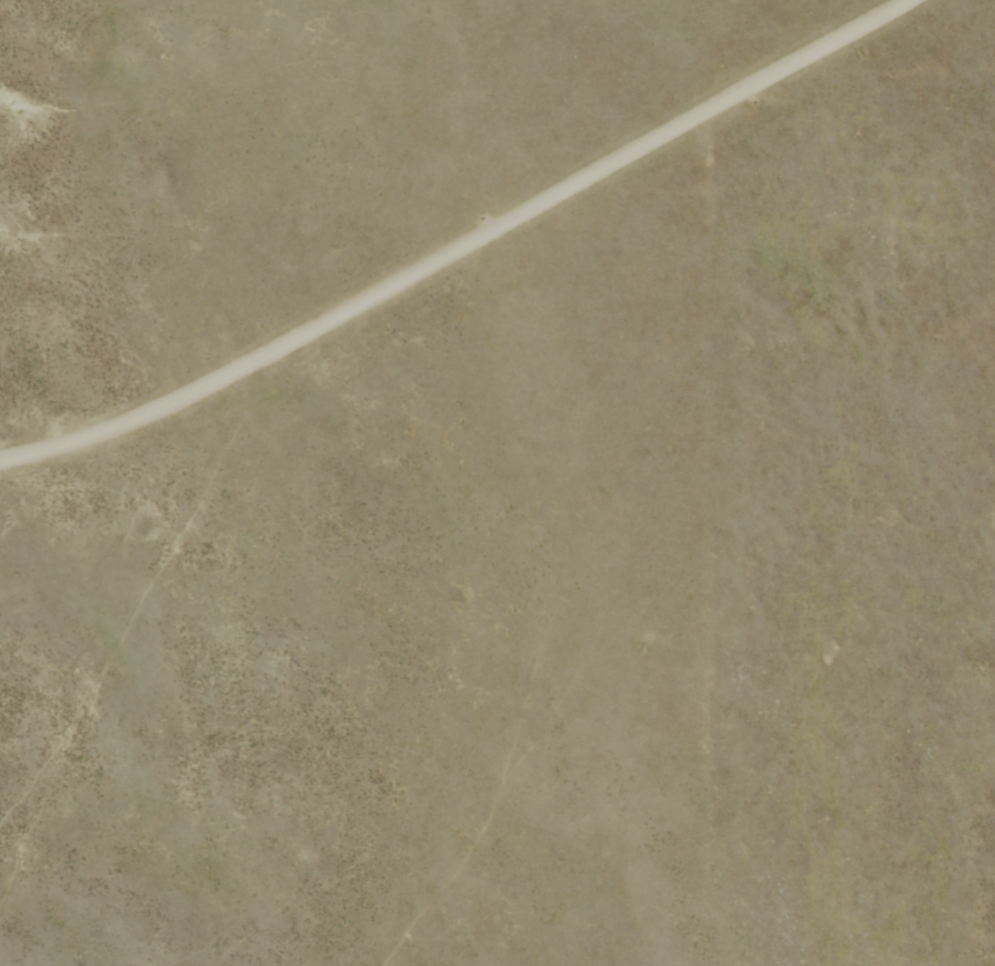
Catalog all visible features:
road: (460, 246)

